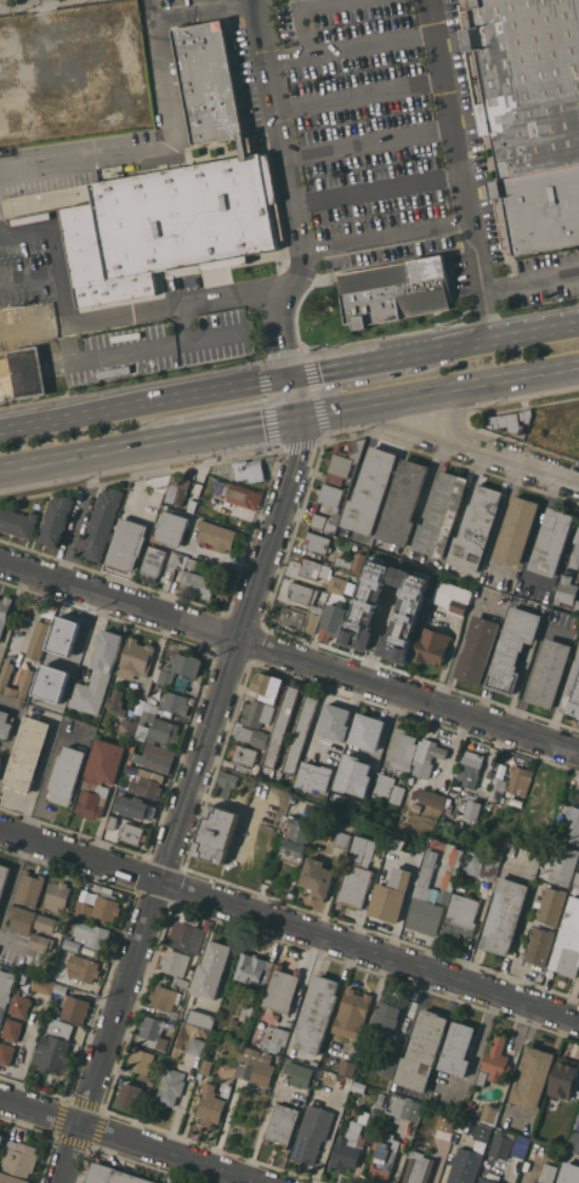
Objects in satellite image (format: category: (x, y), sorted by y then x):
road: (255, 2)
road: (300, 10)
road: (205, 13)
road: (261, 33)
road: (348, 46)
road: (358, 96)
road: (447, 111)
building: (529, 113)
road: (367, 141)
road: (153, 147)
building: (194, 182)
road: (375, 189)
road: (294, 221)
road: (384, 237)
road: (52, 251)
road: (28, 279)
road: (479, 281)
road: (530, 281)
building: (396, 290)
road: (143, 311)
road: (493, 340)
road: (131, 351)
road: (351, 367)
building: (22, 373)
traffic signals: (293, 378)
road: (439, 390)
road: (146, 404)
traffic signals: (300, 415)
road: (450, 418)
building: (511, 420)
road: (238, 426)
road: (401, 429)
road: (89, 454)
building: (344, 460)
road: (524, 468)
building: (249, 471)
building: (177, 489)
building: (370, 491)
building: (239, 494)
building: (403, 503)
building: (192, 505)
building: (334, 509)
building: (442, 515)
road: (503, 515)
building: (55, 520)
building: (17, 522)
building: (101, 523)
road: (537, 525)
building: (171, 528)
building: (476, 528)
building: (517, 530)
building: (216, 536)
building: (551, 542)
building: (317, 543)
building: (127, 544)
building: (575, 551)
building: (358, 560)
building: (342, 561)
building: (152, 562)
building: (172, 562)
building: (182, 562)
building: (385, 562)
building: (193, 564)
building: (311, 567)
building: (176, 578)
building: (388, 582)
building: (337, 583)
building: (198, 584)
building: (566, 590)
building: (301, 591)
building: (453, 598)
building: (404, 606)
road: (12, 607)
building: (575, 607)
building: (314, 609)
building: (4, 611)
building: (300, 618)
building: (333, 621)
building: (367, 627)
building: (39, 639)
building: (393, 643)
building: (431, 646)
building: (67, 647)
building: (477, 649)
building: (512, 649)
road: (289, 653)
building: (578, 655)
building: (136, 658)
road: (530, 666)
building: (181, 668)
building: (549, 673)
building: (97, 674)
building: (27, 680)
building: (267, 686)
building: (573, 695)
building: (115, 702)
building: (174, 702)
building: (149, 712)
building: (257, 713)
building: (335, 721)
building: (5, 724)
building: (127, 726)
building: (280, 728)
building: (164, 731)
building: (301, 731)
building: (252, 736)
building: (362, 741)
road: (10, 742)
building: (399, 752)
building: (27, 754)
building: (244, 754)
building: (426, 757)
building: (153, 758)
building: (0, 759)
building: (470, 768)
building: (243, 769)
building: (67, 775)
building: (100, 776)
building: (313, 776)
road: (39, 777)
building: (365, 779)
building: (409, 780)
building: (518, 780)
building: (144, 781)
road: (195, 781)
building: (226, 783)
building: (381, 786)
building: (496, 789)
building: (397, 794)
building: (428, 797)
building: (136, 808)
building: (447, 808)
building: (471, 810)
building: (573, 826)
building: (127, 830)
building: (216, 834)
building: (345, 838)
building: (297, 840)
building: (276, 855)
building: (484, 865)
building: (566, 866)
building: (359, 873)
building: (453, 874)
building: (4, 877)
building: (319, 877)
road: (12, 879)
building: (578, 881)
building: (29, 888)
building: (58, 895)
building: (393, 895)
building: (427, 900)
building: (552, 905)
building: (100, 907)
building: (506, 915)
building: (462, 916)
building: (22, 918)
building: (47, 923)
road: (289, 924)
building: (93, 934)
building: (187, 935)
building: (41, 943)
road: (11, 944)
building: (568, 944)
building: (72, 945)
building: (540, 945)
building: (174, 962)
building: (83, 968)
building: (212, 969)
building: (254, 969)
building: (180, 981)
building: (42, 985)
building: (282, 989)
building: (5, 991)
building: (164, 997)
building: (56, 998)
building: (19, 1004)
building: (75, 1008)
building: (55, 1011)
building: (250, 1011)
building: (317, 1013)
building: (352, 1013)
building: (174, 1014)
building: (388, 1015)
building: (201, 1019)
building: (234, 1021)
building: (59, 1028)
building: (12, 1029)
building: (153, 1031)
building: (274, 1037)
building: (197, 1046)
building: (458, 1048)
building: (424, 1051)
building: (6, 1053)
building: (51, 1053)
building: (251, 1055)
building: (142, 1060)
building: (388, 1060)
building: (314, 1063)
building: (494, 1063)
building: (206, 1066)
building: (347, 1068)
building: (259, 1070)
building: (300, 1074)
building: (533, 1077)
building: (563, 1077)
building: (172, 1086)
building: (130, 1096)
building: (211, 1104)
building: (403, 1106)
building: (467, 1111)
building: (375, 1114)
building: (490, 1114)
building: (443, 1122)
building: (283, 1123)
road: (331, 1132)
building: (482, 1132)
building: (312, 1133)
building: (1, 1139)
road: (126, 1140)
building: (574, 1142)
building: (500, 1144)
building: (521, 1147)
building: (348, 1148)
building: (384, 1157)
building: (18, 1162)
building: (464, 1166)
building: (419, 1167)
building: (569, 1172)
building: (547, 1173)
building: (113, 1176)
building: (487, 1181)

